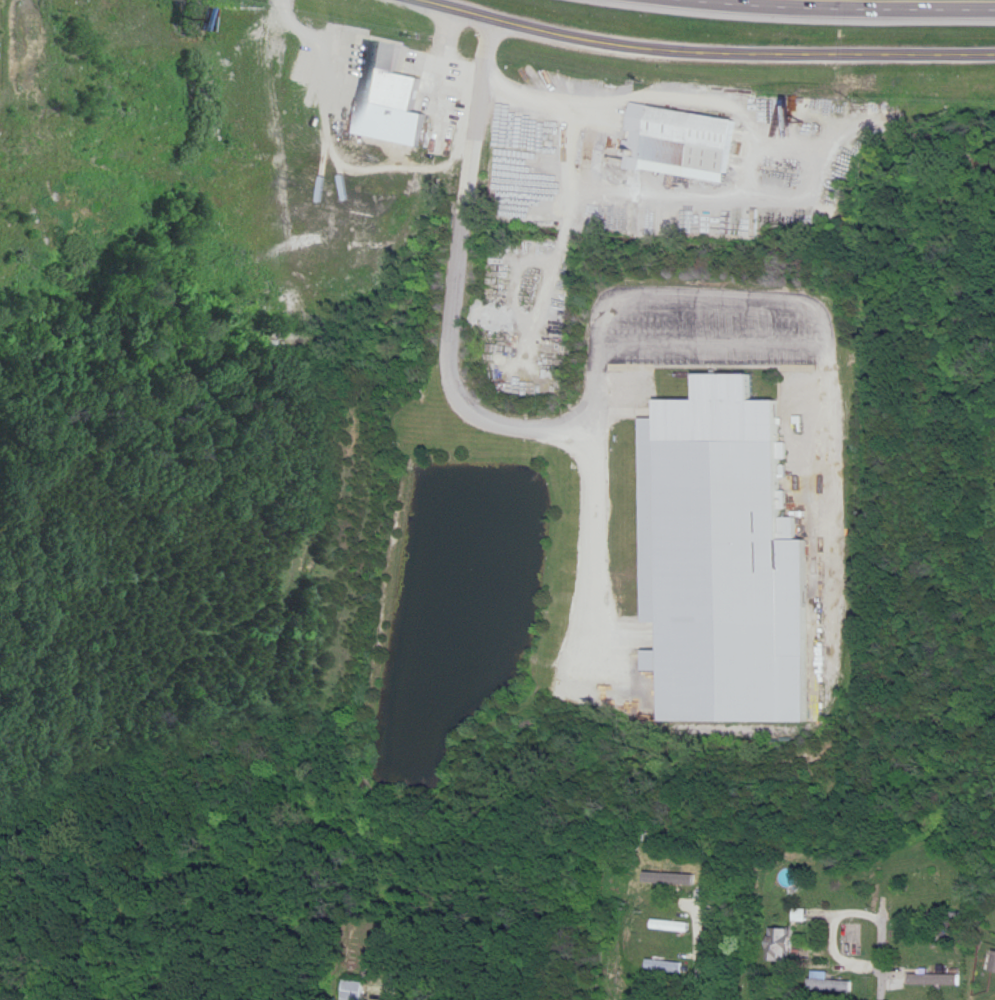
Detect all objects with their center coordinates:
road: (825, 13)
road: (544, 32)
building: (110, 45)
road: (836, 55)
building: (390, 58)
building: (268, 69)
road: (548, 106)
building: (397, 123)
road: (458, 281)
road: (714, 300)
road: (713, 346)
building: (725, 559)
building: (671, 880)
building: (784, 945)
road: (847, 960)
building: (993, 967)
building: (935, 980)
building: (830, 983)
road: (878, 984)
building: (354, 990)

